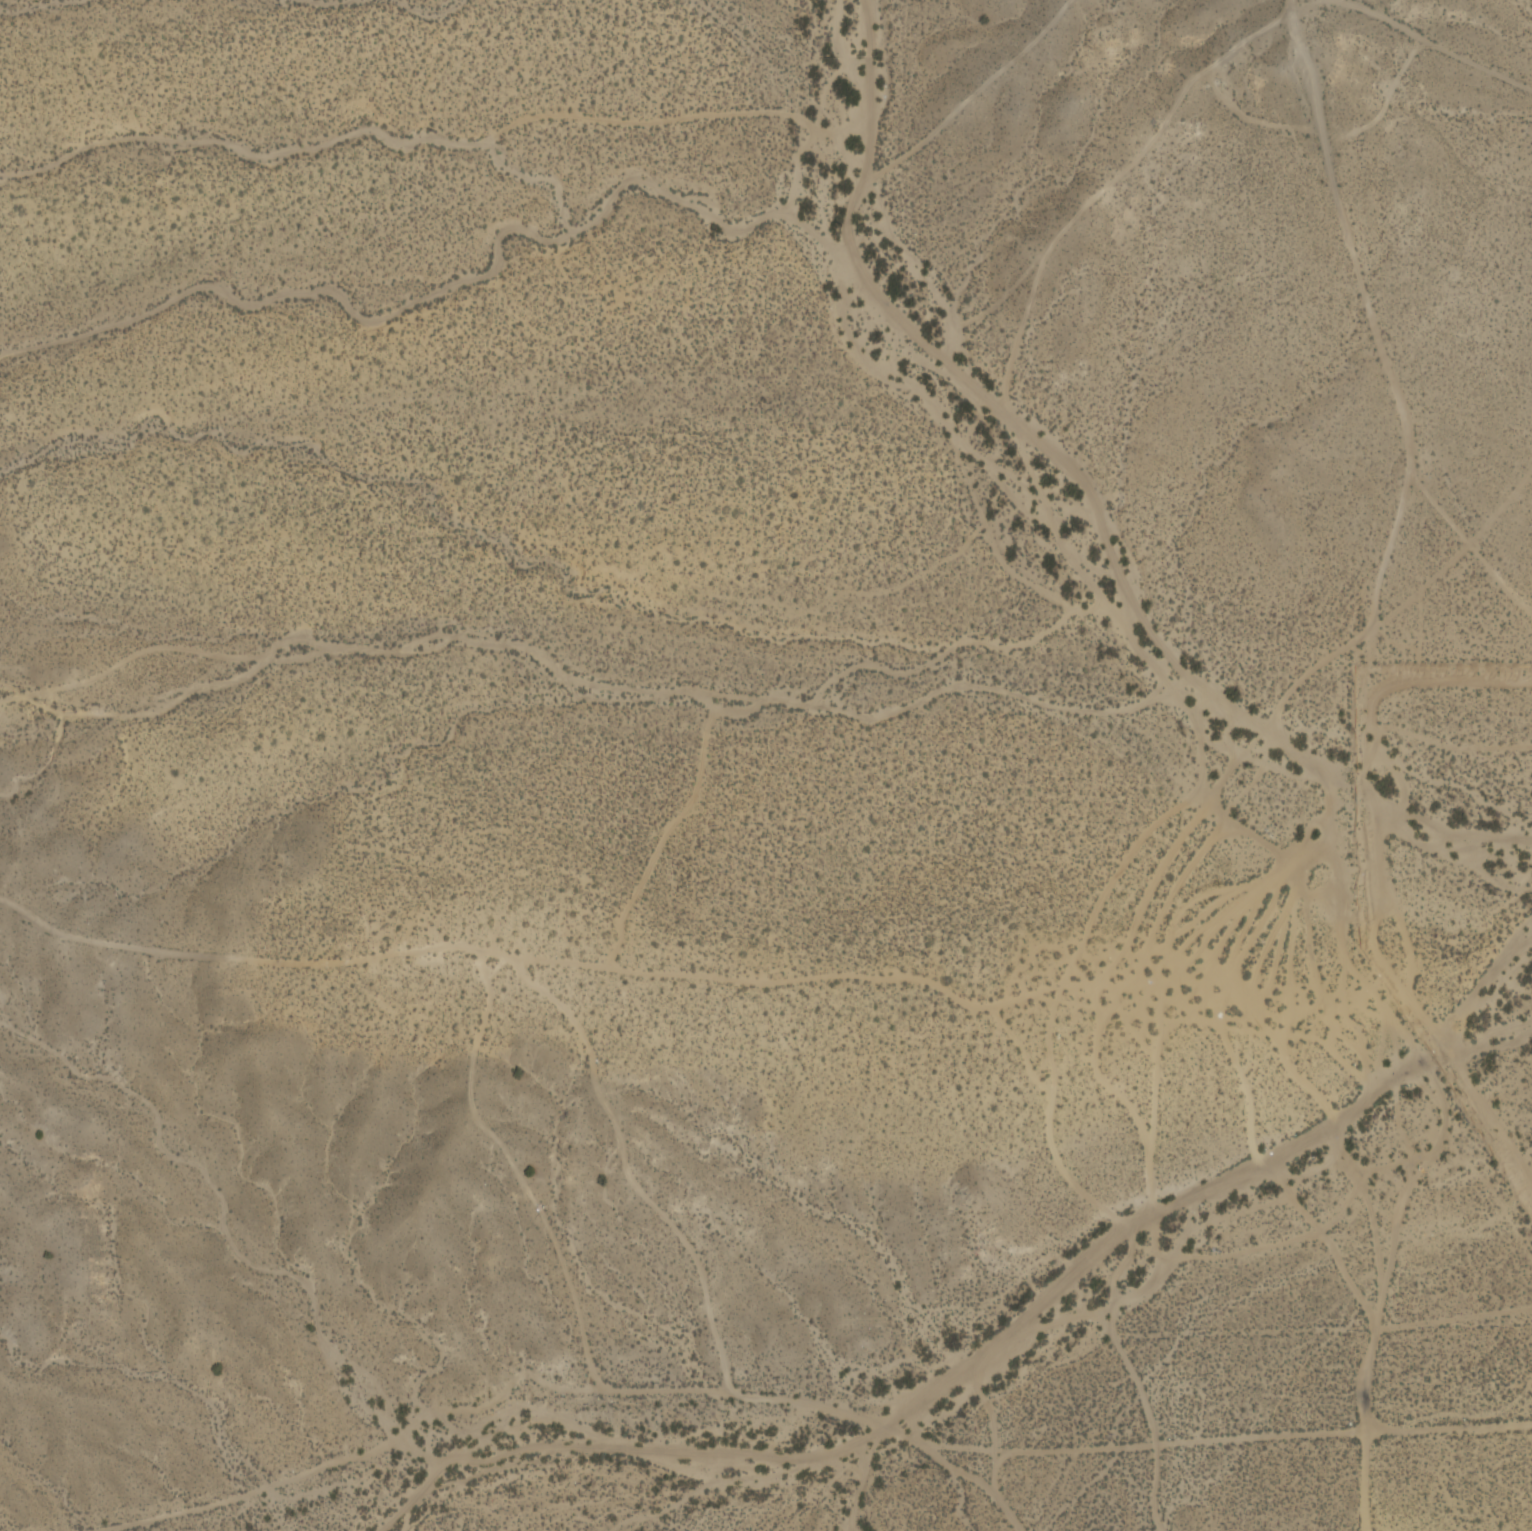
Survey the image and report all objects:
road: (1390, 1324)

